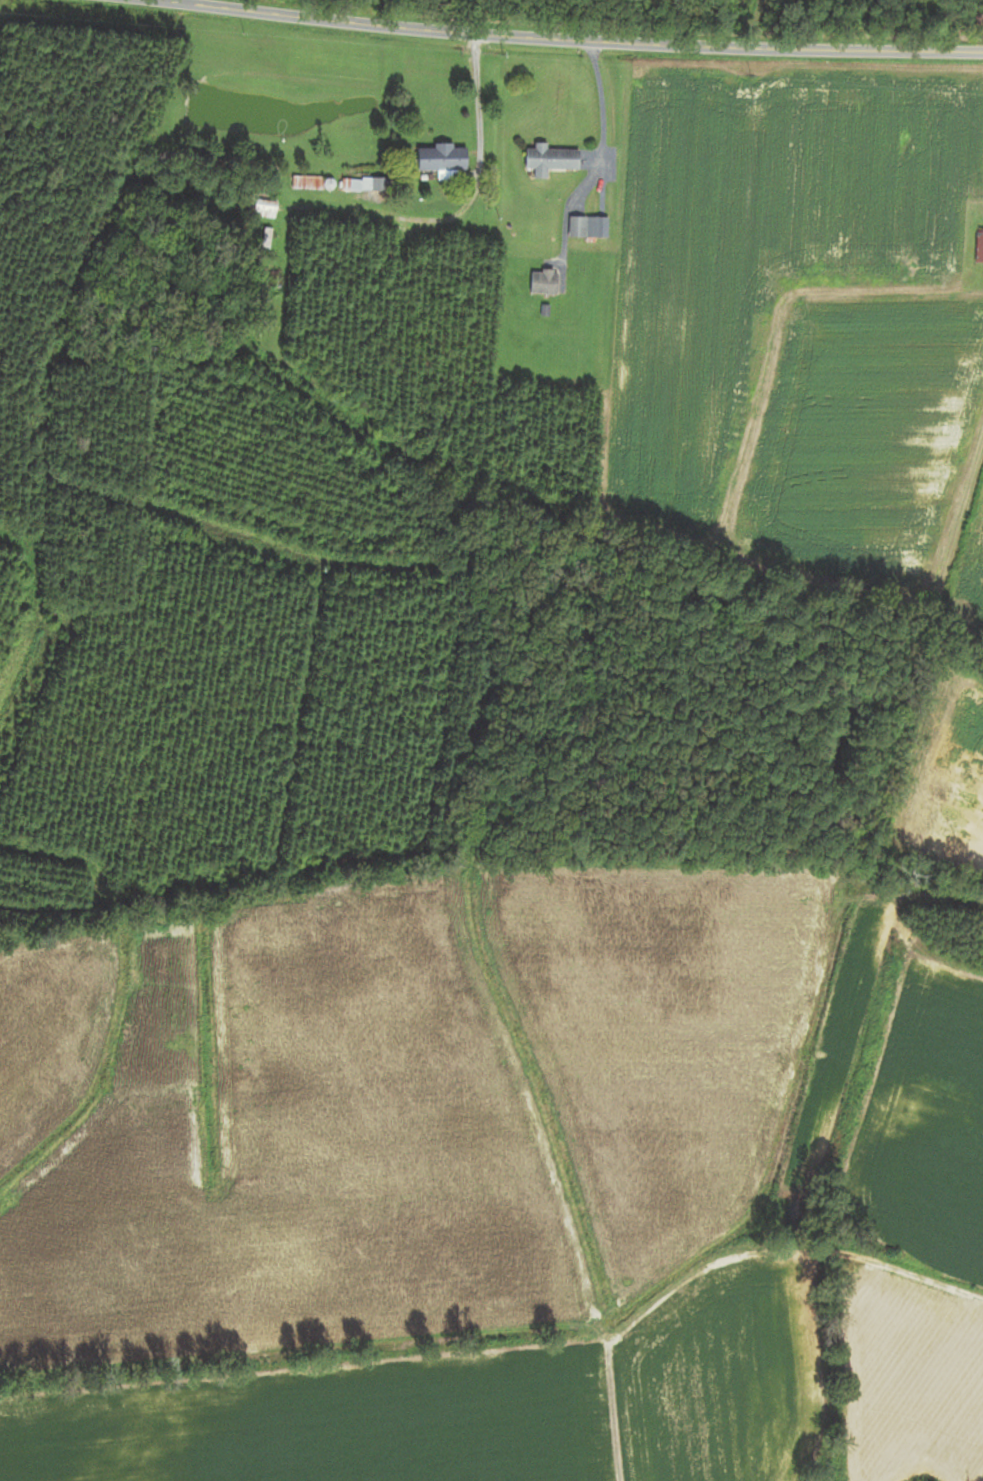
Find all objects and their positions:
road: (565, 39)
road: (602, 127)
building: (443, 158)
building: (550, 160)
building: (306, 183)
building: (366, 186)
road: (467, 199)
building: (261, 205)
building: (586, 226)
building: (978, 246)
building: (545, 282)

